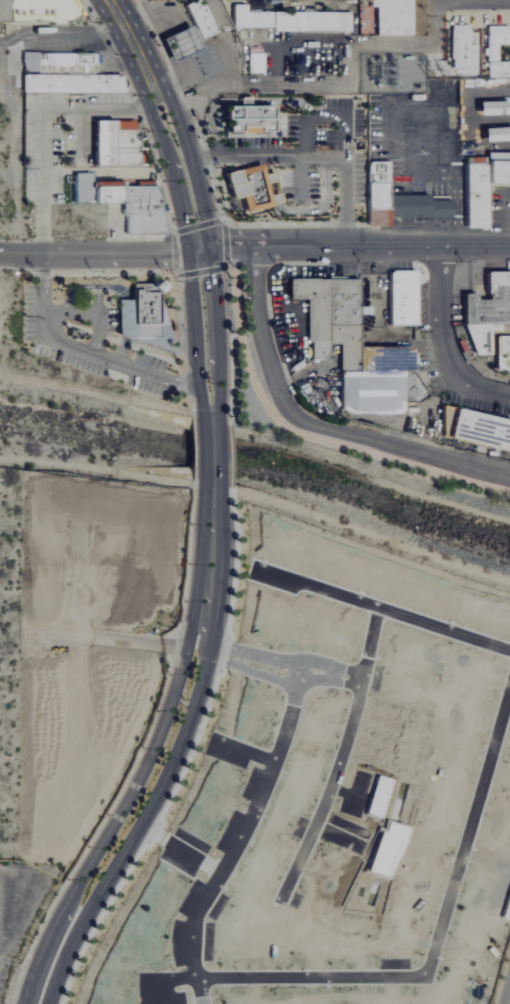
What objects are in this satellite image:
road: (431, 0)
road: (470, 0)
building: (35, 12)
building: (391, 17)
building: (198, 18)
building: (291, 19)
road: (59, 29)
road: (126, 31)
building: (178, 44)
gas station: (178, 44)
building: (463, 48)
building: (497, 51)
building: (254, 62)
building: (58, 63)
building: (69, 83)
road: (491, 96)
building: (489, 107)
road: (151, 113)
building: (248, 116)
road: (43, 128)
building: (494, 134)
building: (116, 144)
road: (314, 156)
road: (299, 173)
building: (481, 183)
building: (253, 188)
road: (343, 198)
building: (394, 199)
building: (122, 201)
road: (182, 207)
road: (209, 235)
road: (348, 246)
traffic signals: (211, 248)
road: (21, 254)
road: (116, 255)
traffic signals: (189, 255)
building: (400, 298)
road: (90, 313)
building: (142, 316)
building: (488, 320)
road: (195, 339)
road: (442, 342)
building: (352, 347)
road: (84, 351)
road: (311, 429)
building: (477, 430)
road: (299, 434)
road: (211, 453)
river: (258, 469)
road: (79, 527)
road: (161, 755)
road: (16, 925)
road: (2, 957)

